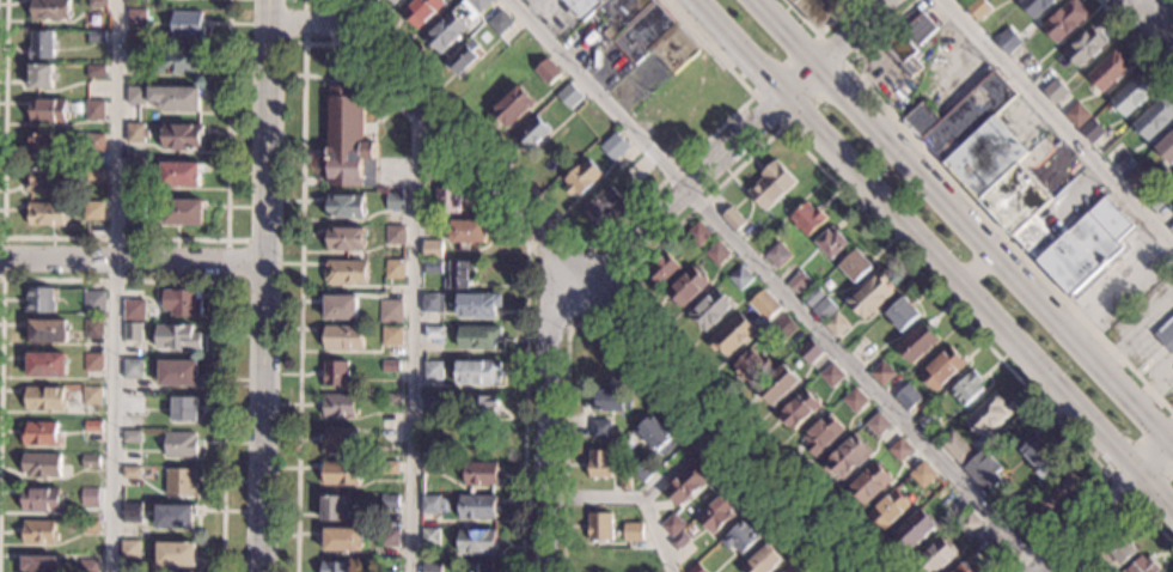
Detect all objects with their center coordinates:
building: (392, 1)
building: (961, 1)
road: (1104, 2)
building: (96, 4)
building: (478, 4)
building: (1034, 6)
building: (50, 8)
building: (978, 8)
building: (609, 10)
building: (819, 10)
building: (419, 11)
building: (136, 18)
building: (1064, 20)
road: (305, 22)
road: (1153, 22)
building: (499, 23)
road: (1166, 23)
building: (187, 24)
road: (304, 26)
building: (446, 29)
road: (818, 31)
building: (643, 32)
building: (96, 36)
road: (1135, 39)
building: (1007, 41)
building: (41, 43)
road: (267, 43)
building: (1087, 43)
building: (910, 44)
building: (674, 49)
building: (135, 56)
building: (460, 56)
road: (352, 59)
building: (178, 61)
road: (845, 65)
building: (1037, 69)
building: (1108, 69)
building: (545, 71)
building: (94, 72)
building: (41, 75)
building: (1055, 91)
building: (1134, 93)
building: (568, 96)
building: (166, 97)
building: (511, 104)
building: (94, 110)
building: (48, 111)
building: (1077, 115)
building: (1155, 117)
road: (1057, 123)
building: (593, 124)
road: (778, 128)
building: (531, 130)
building: (1090, 130)
building: (135, 133)
building: (182, 135)
building: (347, 139)
road: (738, 139)
building: (93, 142)
building: (71, 144)
building: (39, 146)
building: (615, 146)
building: (1166, 148)
building: (1125, 165)
building: (134, 171)
building: (179, 174)
building: (94, 175)
building: (580, 177)
building: (1136, 178)
building: (41, 179)
building: (1016, 184)
building: (770, 185)
building: (446, 200)
building: (1157, 201)
building: (393, 202)
road: (977, 203)
building: (344, 206)
building: (134, 208)
building: (605, 208)
building: (92, 212)
building: (181, 212)
building: (45, 214)
building: (426, 214)
building: (807, 218)
building: (733, 219)
road: (964, 221)
building: (1171, 229)
road: (540, 231)
building: (465, 232)
building: (697, 233)
building: (395, 236)
road: (116, 238)
building: (344, 238)
road: (242, 241)
building: (831, 242)
road: (592, 247)
building: (430, 249)
building: (717, 254)
road: (2, 256)
building: (778, 256)
road: (934, 256)
road: (132, 264)
building: (432, 266)
building: (855, 266)
road: (975, 266)
building: (392, 268)
building: (661, 269)
building: (344, 272)
building: (457, 275)
building: (740, 278)
building: (798, 281)
road: (184, 282)
road: (616, 284)
road: (112, 285)
road: (264, 285)
road: (778, 285)
building: (686, 286)
road: (592, 287)
building: (870, 294)
building: (813, 297)
building: (39, 300)
building: (93, 303)
building: (181, 303)
building: (432, 304)
building: (764, 304)
building: (477, 305)
building: (340, 306)
building: (709, 309)
building: (133, 310)
building: (824, 310)
building: (390, 311)
building: (902, 314)
building: (836, 324)
building: (784, 325)
building: (92, 329)
building: (48, 331)
building: (132, 331)
building: (433, 331)
building: (732, 334)
building: (1166, 334)
building: (391, 335)
road: (414, 335)
building: (175, 336)
building: (343, 337)
building: (478, 337)
building: (918, 343)
road: (621, 345)
building: (810, 351)
building: (91, 363)
building: (45, 365)
building: (390, 366)
building: (751, 366)
building: (132, 369)
building: (941, 369)
building: (432, 371)
building: (477, 372)
building: (177, 373)
building: (335, 373)
building: (882, 373)
building: (831, 376)
building: (776, 384)
building: (966, 388)
building: (91, 395)
building: (609, 397)
building: (908, 397)
building: (44, 398)
building: (390, 398)
building: (855, 400)
building: (132, 404)
building: (338, 406)
building: (432, 406)
building: (481, 406)
building: (184, 408)
building: (799, 408)
building: (986, 415)
road: (540, 418)
building: (927, 420)
building: (878, 425)
building: (92, 426)
building: (600, 431)
building: (821, 433)
building: (41, 434)
building: (130, 436)
building: (654, 436)
building: (338, 439)
building: (179, 444)
building: (957, 449)
building: (900, 450)
building: (847, 456)
building: (1040, 456)
building: (91, 461)
building: (599, 464)
building: (41, 465)
building: (389, 467)
building: (429, 468)
building: (643, 470)
building: (984, 470)
building: (130, 473)
building: (341, 474)
building: (481, 474)
building: (922, 475)
road: (1108, 475)
building: (624, 480)
building: (179, 481)
building: (869, 482)
building: (685, 483)
road: (643, 494)
building: (90, 497)
building: (943, 497)
building: (42, 499)
building: (389, 500)
building: (1046, 503)
building: (429, 505)
building: (476, 506)
building: (334, 509)
building: (890, 510)
road: (1107, 511)
building: (132, 513)
building: (715, 515)
building: (173, 516)
road: (1119, 519)
building: (967, 524)
building: (88, 527)
building: (599, 527)
building: (672, 527)
building: (915, 529)
building: (633, 531)
building: (39, 533)
road: (656, 534)
building: (740, 536)
building: (387, 537)
building: (428, 537)
building: (342, 540)
building: (679, 540)
building: (475, 541)
building: (1118, 548)
building: (129, 550)
building: (992, 553)
building: (176, 554)
building: (935, 555)
building: (623, 560)
building: (764, 560)
building: (39, 564)
building: (88, 565)
road: (842, 565)
building: (1142, 565)
building: (389, 566)
building: (335, 567)
building: (430, 567)
building: (647, 567)
building: (479, 568)
building: (696, 568)
building: (963, 568)
building: (792, 570)

